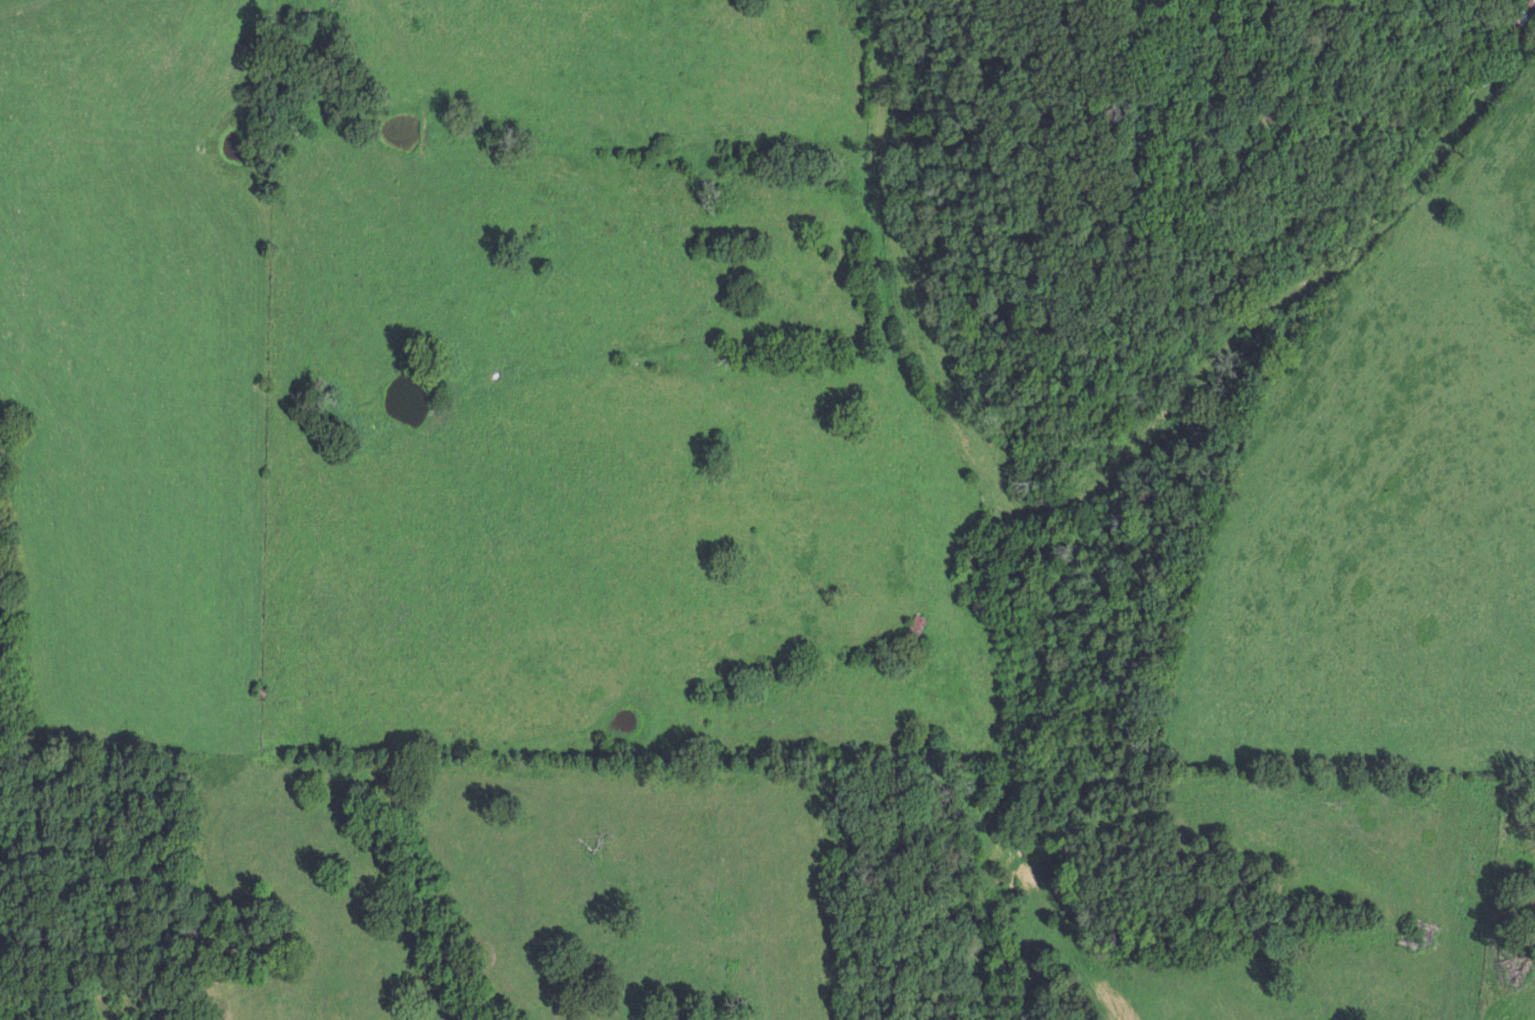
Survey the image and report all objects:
road: (1238, 324)

